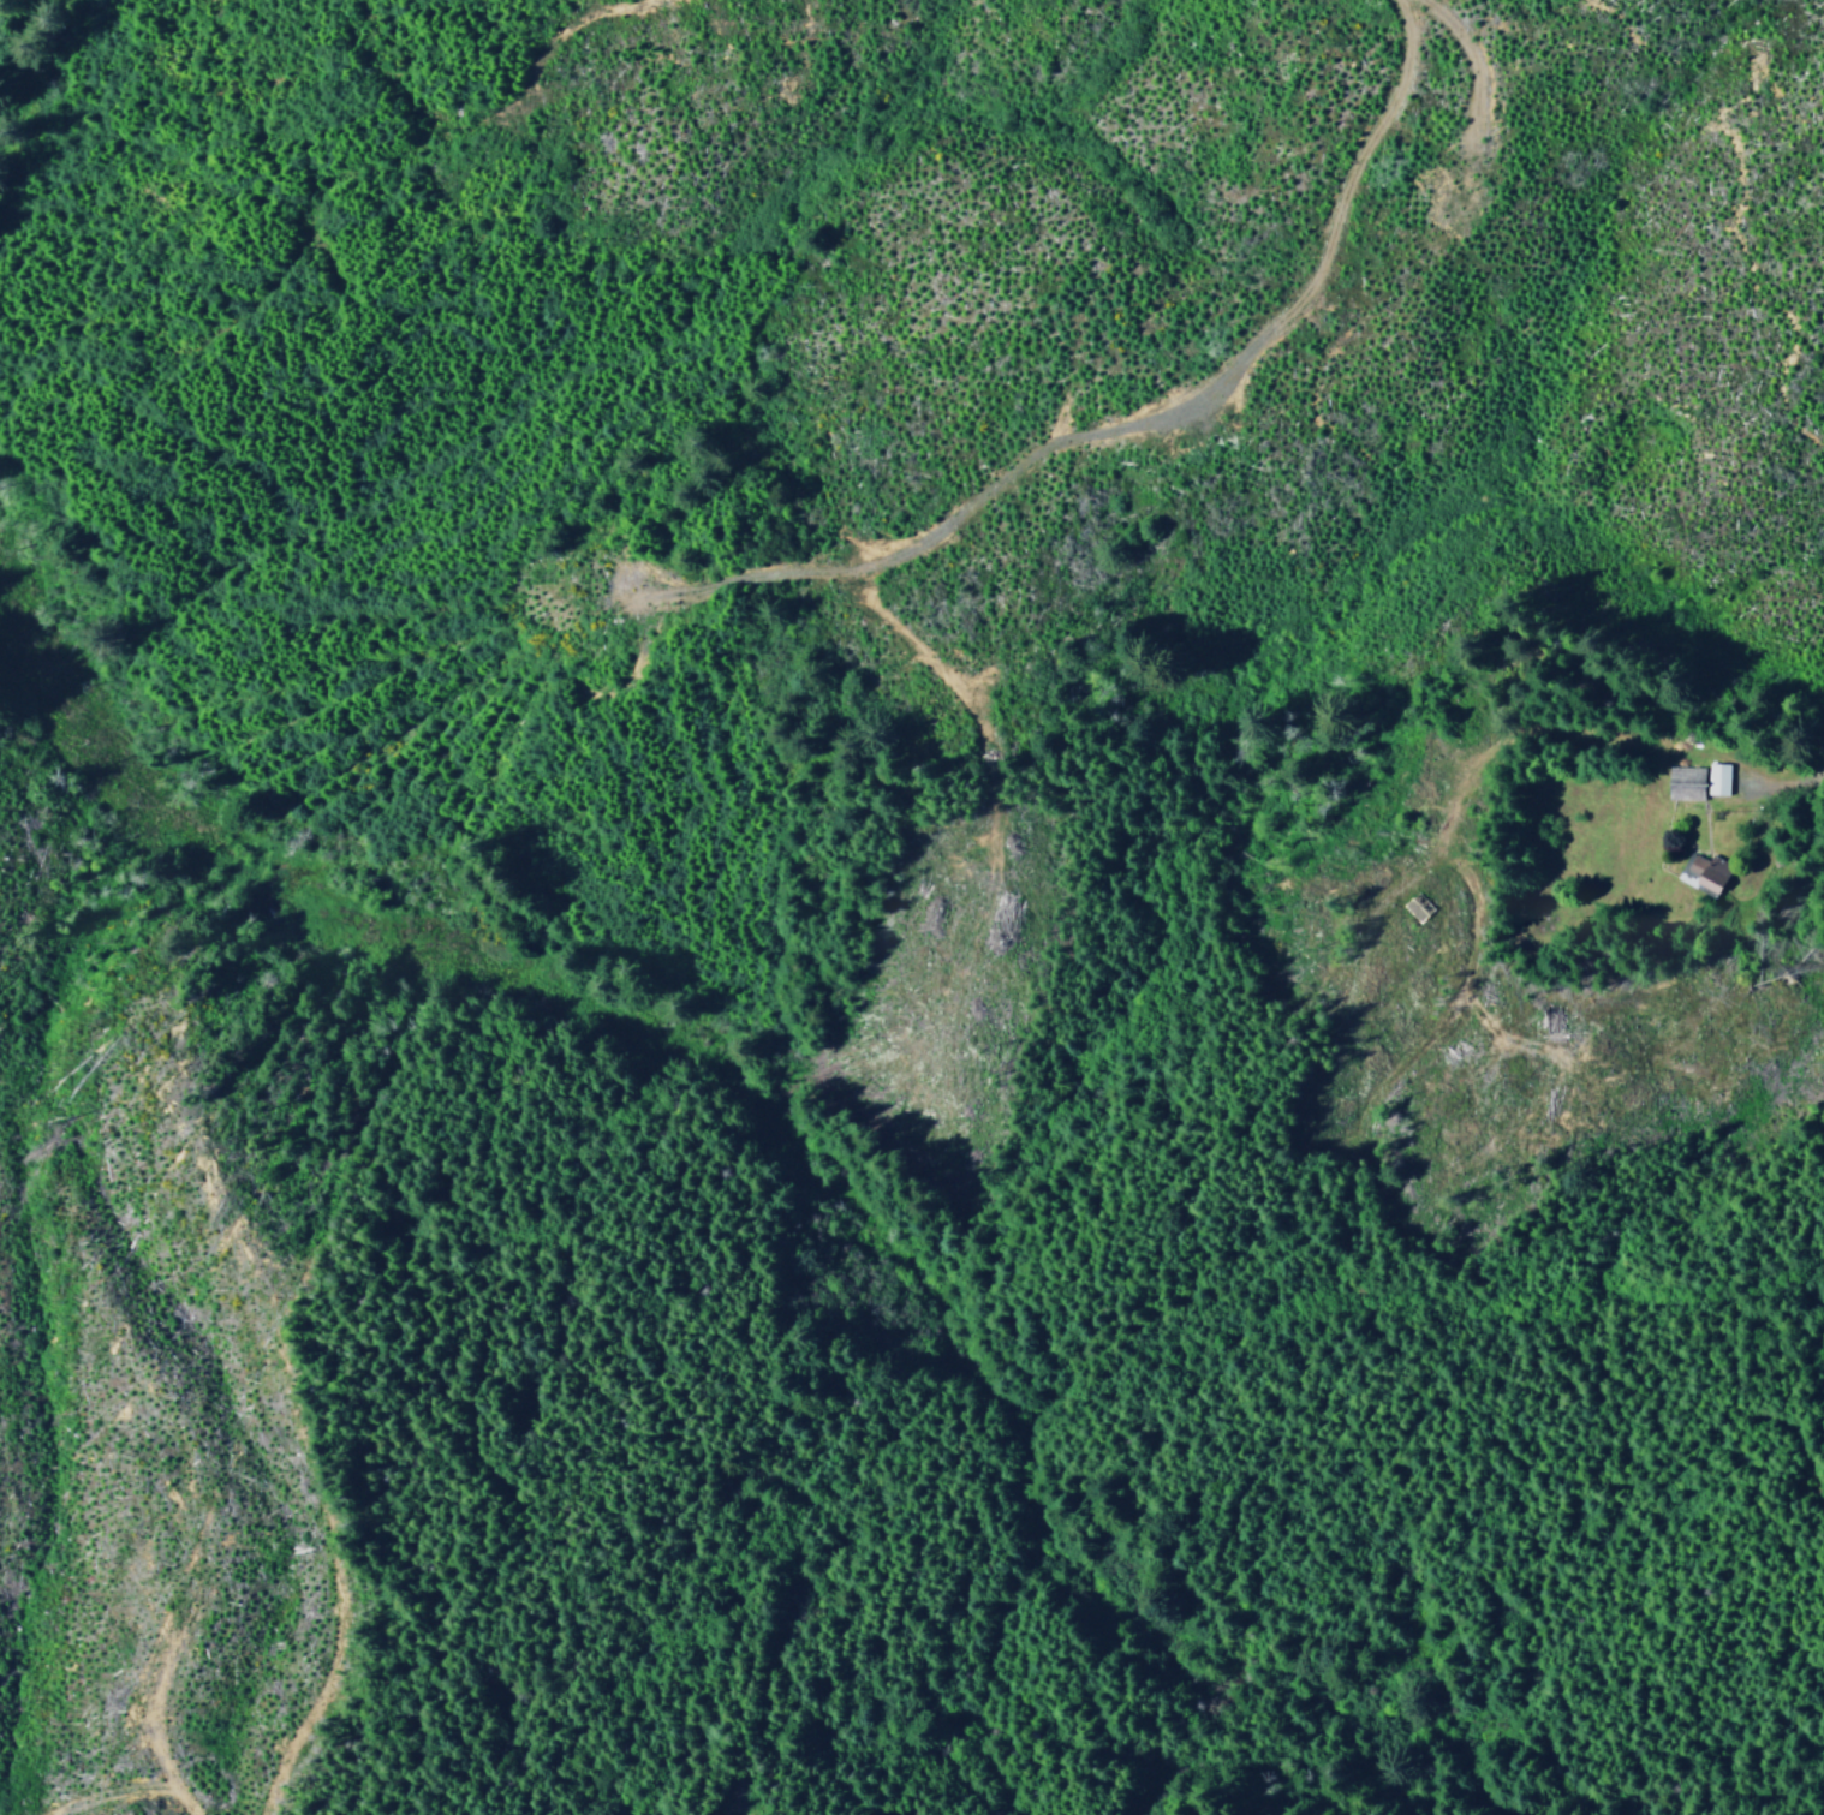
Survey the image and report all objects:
building: (1698, 781)
road: (1789, 793)
building: (1703, 873)

